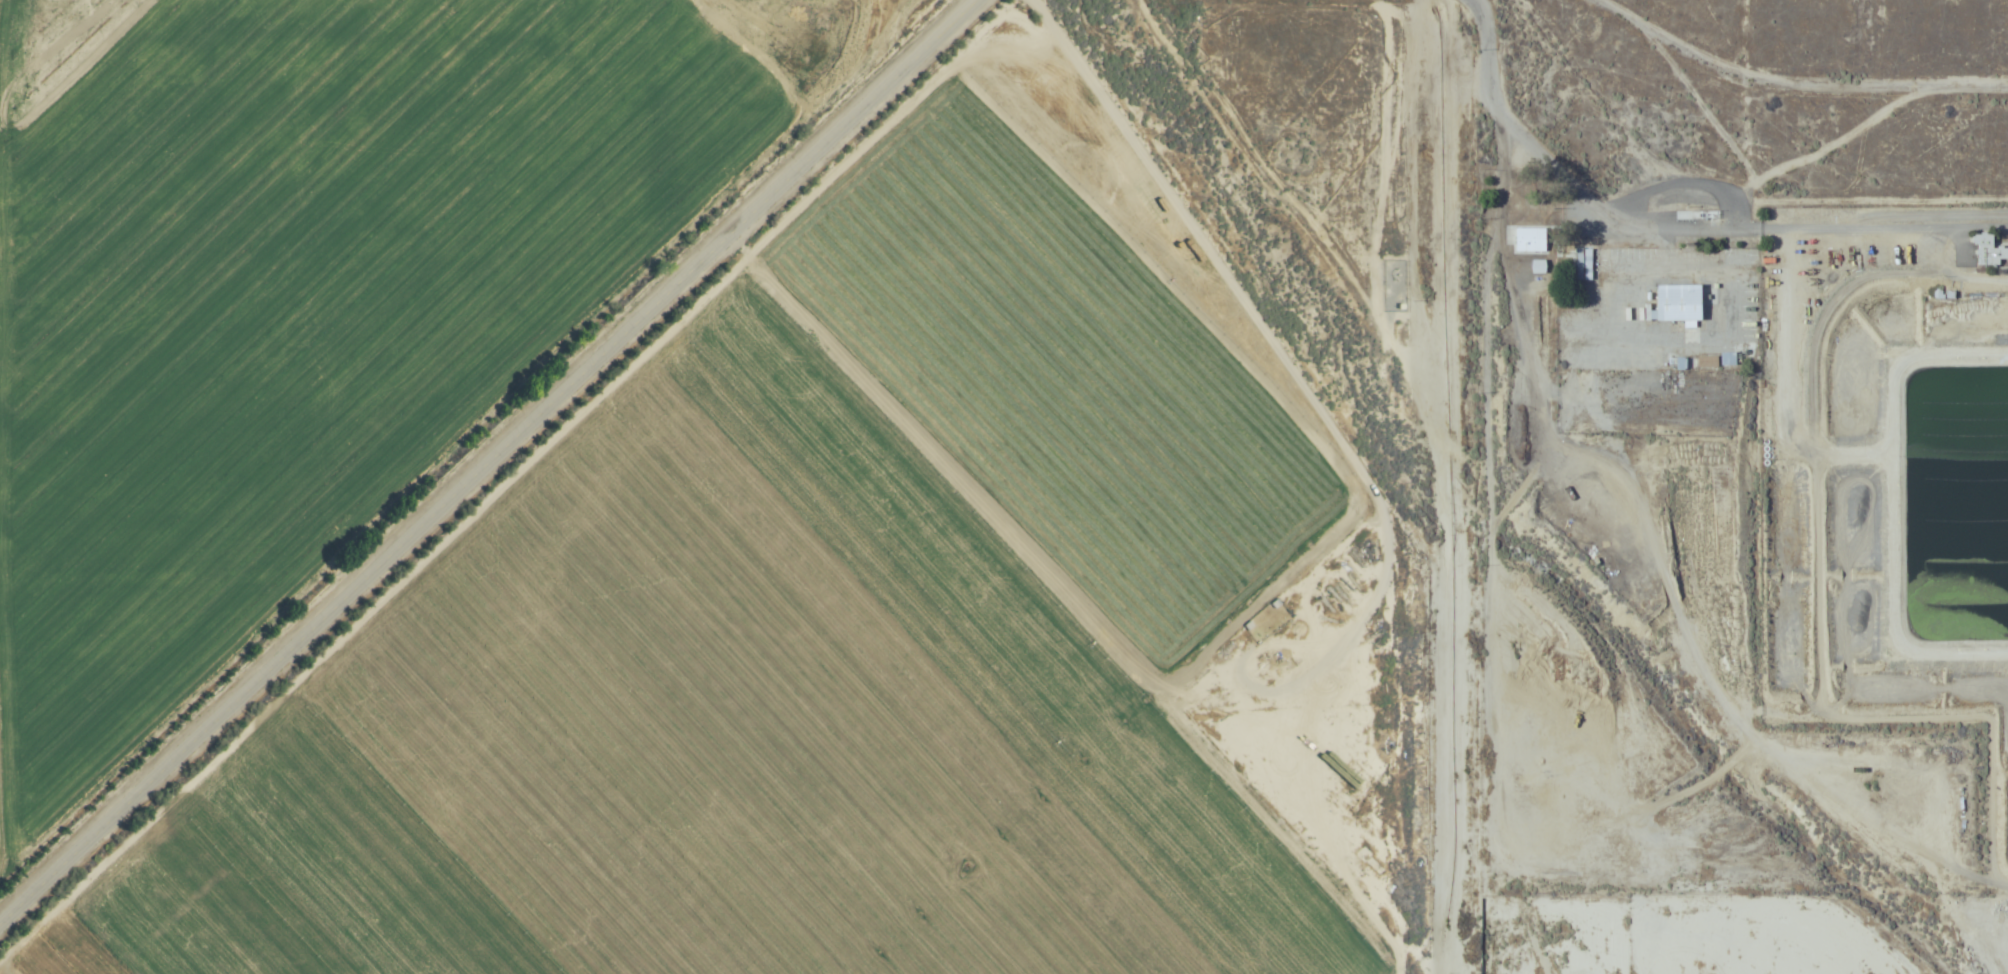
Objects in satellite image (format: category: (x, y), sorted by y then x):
building: (1529, 240)
building: (1989, 251)
building: (1583, 264)
crop: (313, 290)
building: (1677, 303)
road: (486, 459)
wastewater plant: (1888, 473)
crop: (829, 624)

